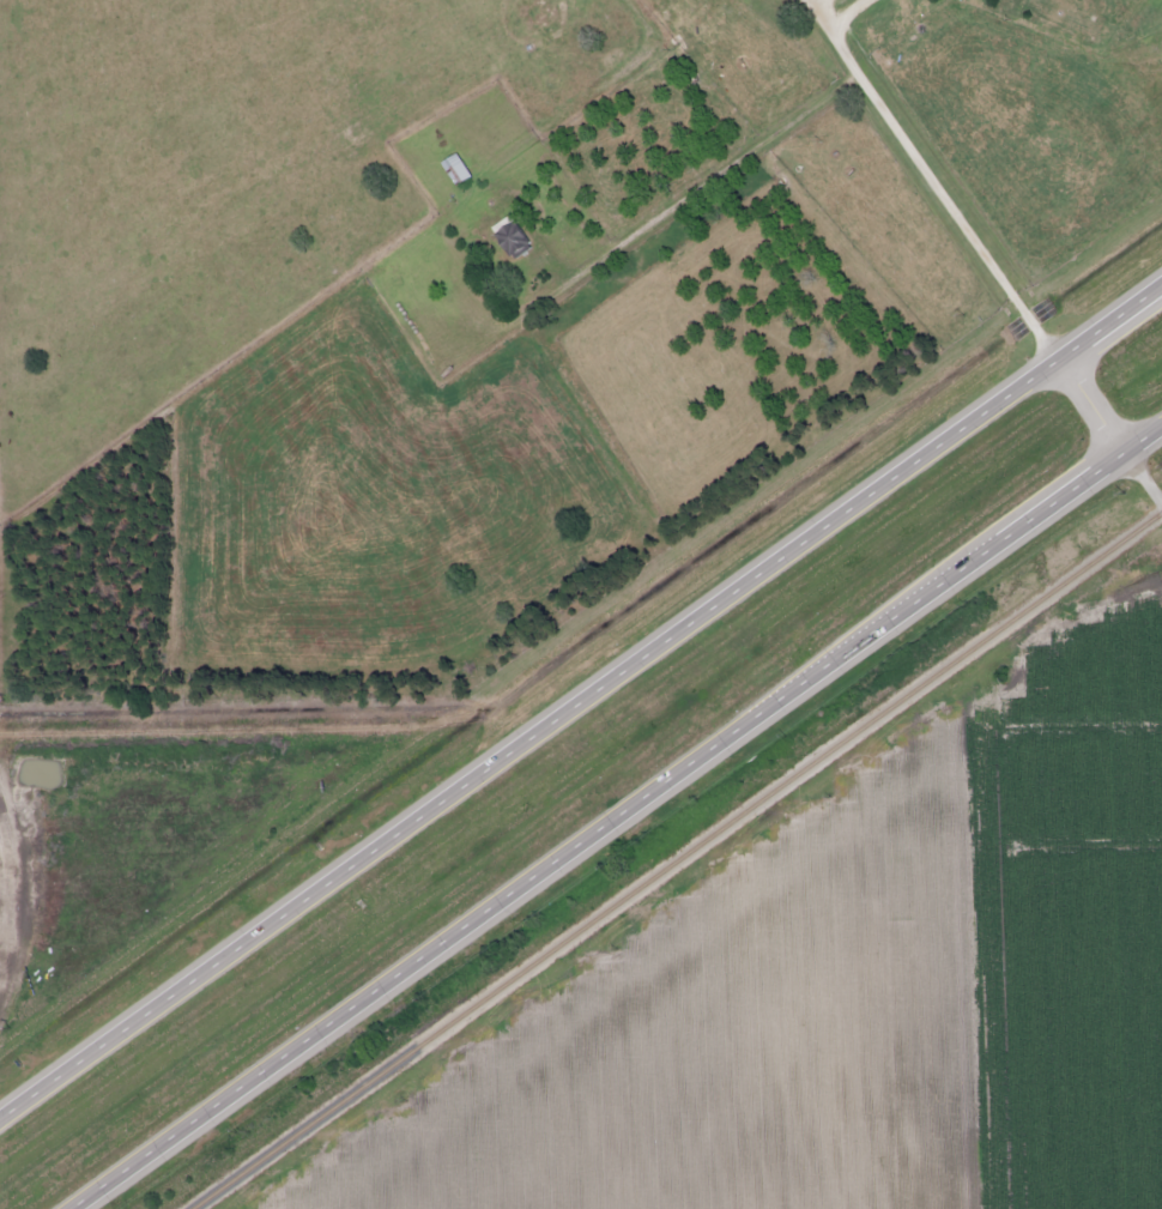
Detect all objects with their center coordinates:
building: (452, 168)
road: (928, 187)
building: (507, 236)
road: (1110, 434)
road: (581, 706)
road: (615, 815)
railway: (674, 859)

